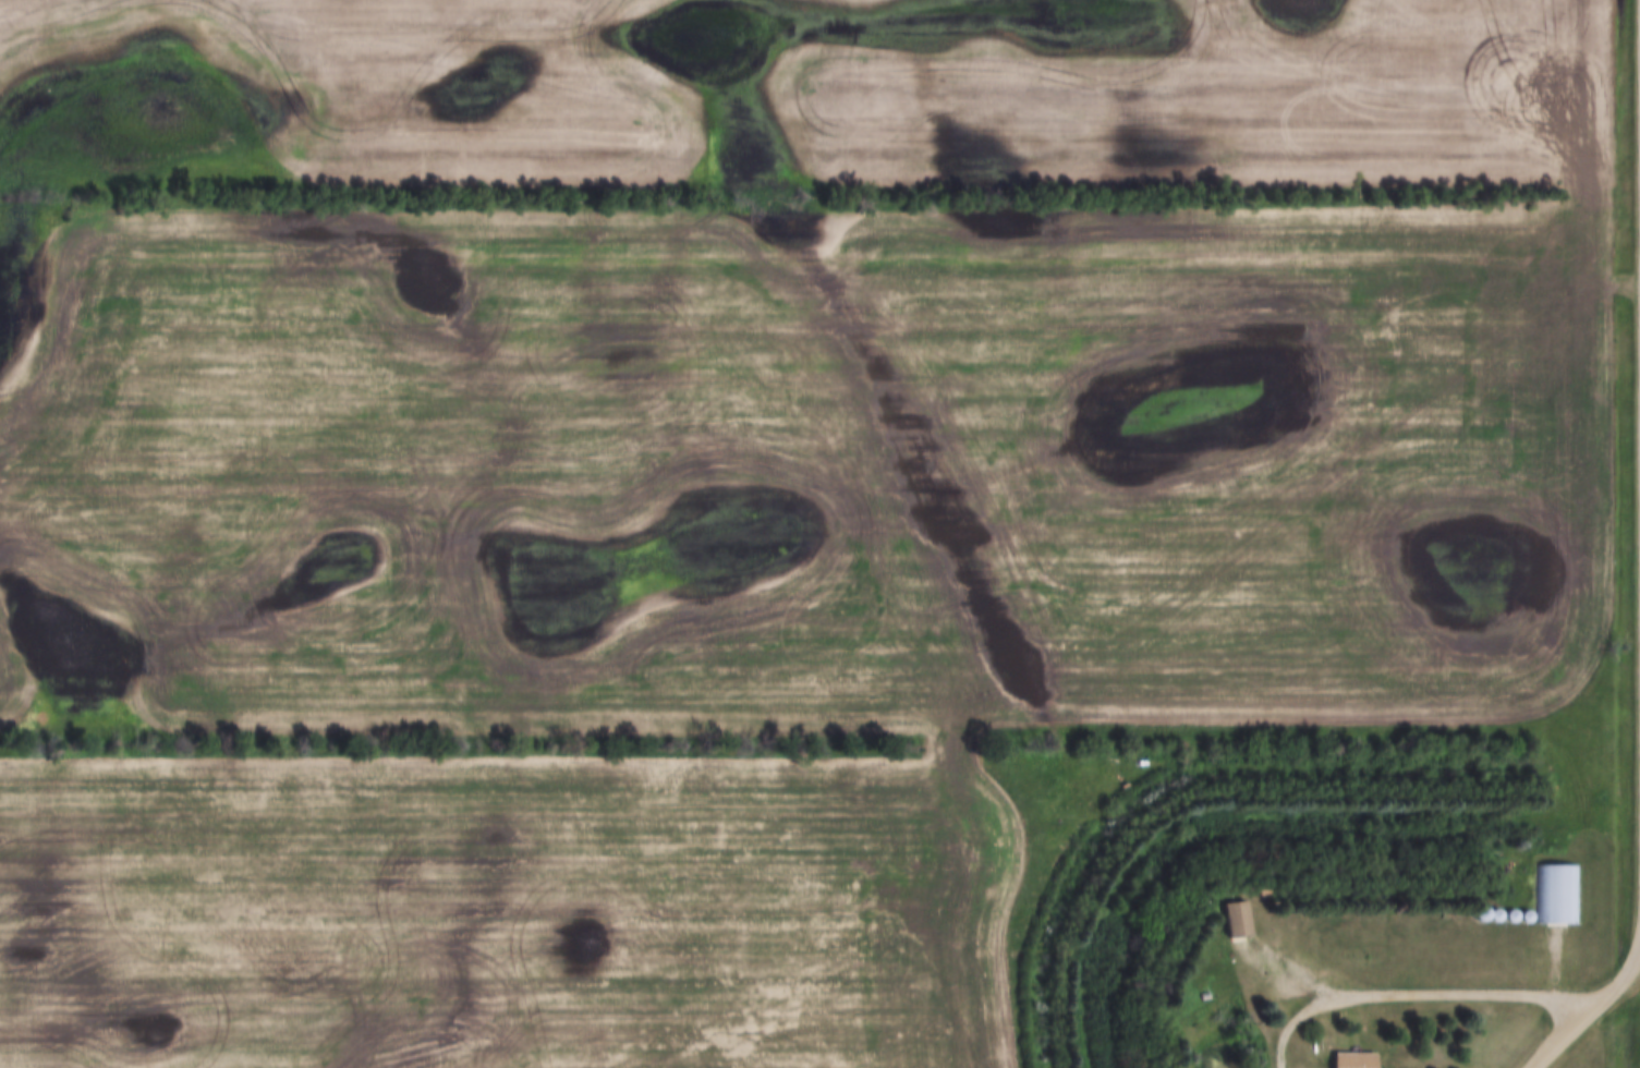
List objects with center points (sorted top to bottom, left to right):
building: (1556, 896)
building: (1241, 921)
road: (1416, 988)
road: (1589, 1011)
building: (1356, 1061)

